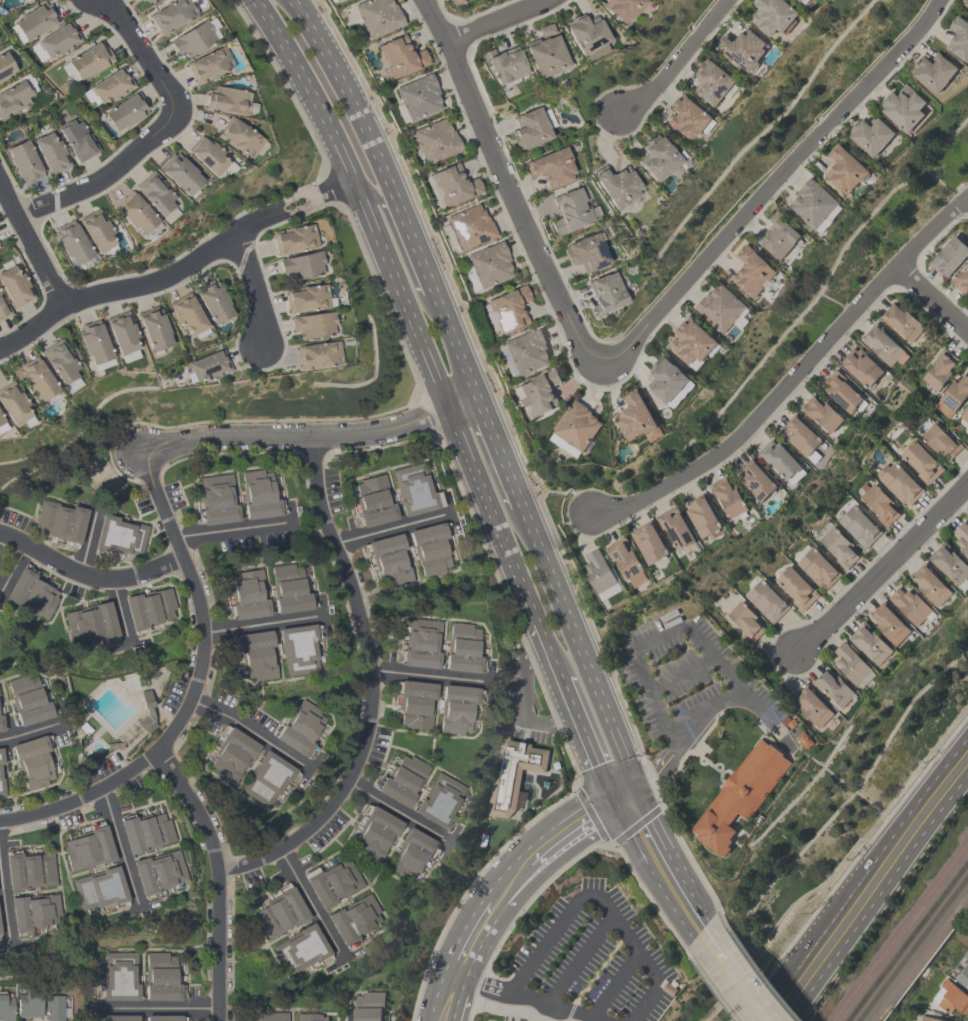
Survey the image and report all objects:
building: (331, 0)
building: (799, 0)
building: (146, 1)
building: (456, 1)
building: (804, 1)
building: (965, 2)
building: (622, 8)
building: (171, 15)
building: (773, 15)
building: (377, 16)
building: (36, 21)
road: (495, 21)
building: (545, 30)
building: (586, 35)
building: (959, 37)
building: (192, 39)
building: (58, 40)
building: (741, 48)
road: (139, 54)
building: (545, 55)
building: (399, 56)
building: (89, 60)
road: (676, 61)
building: (208, 65)
building: (505, 65)
building: (5, 66)
building: (933, 71)
building: (713, 81)
building: (111, 86)
road: (346, 94)
building: (15, 95)
building: (418, 97)
building: (228, 101)
building: (903, 106)
building: (125, 112)
building: (687, 117)
building: (529, 129)
building: (871, 134)
building: (240, 138)
building: (77, 139)
building: (435, 141)
building: (51, 154)
building: (207, 155)
building: (655, 158)
building: (24, 162)
building: (552, 167)
building: (844, 168)
building: (180, 173)
road: (101, 174)
road: (509, 184)
building: (615, 185)
building: (453, 186)
road: (769, 186)
building: (155, 193)
road: (967, 193)
road: (967, 194)
building: (815, 205)
building: (571, 211)
building: (134, 212)
building: (469, 227)
building: (95, 230)
building: (779, 235)
building: (294, 239)
building: (71, 242)
road: (31, 244)
road: (208, 251)
building: (586, 252)
road: (401, 253)
building: (949, 256)
road: (420, 261)
building: (302, 265)
building: (488, 265)
building: (751, 271)
building: (961, 279)
building: (15, 287)
road: (254, 288)
building: (605, 293)
road: (930, 297)
building: (305, 298)
building: (213, 303)
road: (404, 306)
building: (720, 307)
building: (3, 309)
building: (508, 309)
building: (186, 313)
building: (902, 321)
road: (30, 325)
building: (312, 325)
building: (154, 329)
building: (121, 332)
building: (93, 342)
building: (692, 342)
building: (881, 343)
building: (526, 351)
building: (316, 356)
building: (59, 361)
building: (208, 366)
building: (861, 366)
building: (939, 368)
road: (793, 374)
building: (666, 377)
building: (37, 379)
building: (842, 391)
building: (537, 394)
building: (953, 395)
building: (13, 405)
building: (821, 413)
building: (965, 414)
building: (636, 417)
building: (0, 420)
building: (1, 427)
building: (575, 428)
road: (293, 435)
building: (801, 436)
building: (940, 441)
road: (498, 452)
building: (780, 458)
building: (921, 461)
building: (755, 479)
building: (898, 482)
road: (499, 487)
building: (413, 490)
building: (257, 495)
building: (727, 495)
building: (217, 500)
building: (374, 501)
building: (880, 504)
building: (702, 515)
building: (967, 517)
building: (60, 521)
building: (859, 525)
road: (389, 527)
building: (675, 527)
road: (232, 529)
building: (120, 535)
building: (962, 537)
road: (88, 540)
building: (648, 541)
building: (839, 546)
building: (428, 549)
building: (389, 558)
building: (627, 561)
building: (950, 564)
road: (12, 567)
road: (883, 567)
building: (817, 568)
building: (598, 571)
road: (88, 576)
building: (930, 584)
building: (796, 587)
building: (288, 589)
building: (30, 594)
building: (248, 595)
road: (197, 598)
building: (766, 600)
building: (911, 605)
road: (118, 608)
building: (148, 608)
building: (745, 620)
building: (90, 622)
road: (262, 622)
building: (889, 622)
building: (870, 643)
building: (421, 644)
road: (531, 645)
road: (644, 645)
building: (462, 648)
building: (297, 649)
road: (548, 649)
building: (256, 654)
building: (853, 665)
road: (681, 673)
road: (427, 674)
road: (592, 681)
road: (371, 687)
building: (833, 687)
building: (28, 700)
building: (416, 704)
building: (813, 707)
building: (457, 708)
road: (526, 718)
building: (1, 724)
road: (246, 726)
building: (299, 728)
road: (29, 731)
building: (803, 738)
road: (585, 739)
building: (232, 755)
building: (32, 762)
road: (657, 769)
building: (514, 774)
building: (1, 777)
building: (266, 778)
building: (402, 780)
traffic signals: (636, 787)
building: (742, 793)
road: (624, 794)
road: (83, 795)
building: (439, 801)
traffic signals: (612, 801)
road: (398, 812)
building: (145, 832)
building: (374, 835)
road: (549, 846)
road: (119, 847)
road: (668, 847)
building: (88, 849)
building: (410, 855)
road: (871, 862)
road: (568, 866)
building: (29, 871)
road: (653, 871)
building: (157, 872)
road: (217, 877)
building: (332, 883)
building: (98, 888)
road: (878, 891)
road: (310, 902)
road: (4, 904)
building: (32, 912)
building: (280, 913)
road: (566, 916)
building: (353, 919)
road: (702, 920)
railway: (899, 935)
road: (475, 938)
railway: (906, 942)
road: (712, 946)
building: (300, 949)
railway: (913, 949)
road: (579, 957)
building: (120, 977)
building: (963, 977)
building: (161, 978)
road: (483, 983)
road: (615, 984)
road: (714, 989)
road: (743, 991)
road: (449, 998)
building: (952, 999)
building: (29, 1003)
building: (369, 1005)
road: (764, 1006)
building: (6, 1007)
building: (54, 1007)
road: (155, 1007)
building: (273, 1016)
road: (787, 1016)
building: (312, 1017)
building: (119, 1018)
building: (162, 1018)
building: (930, 1019)

